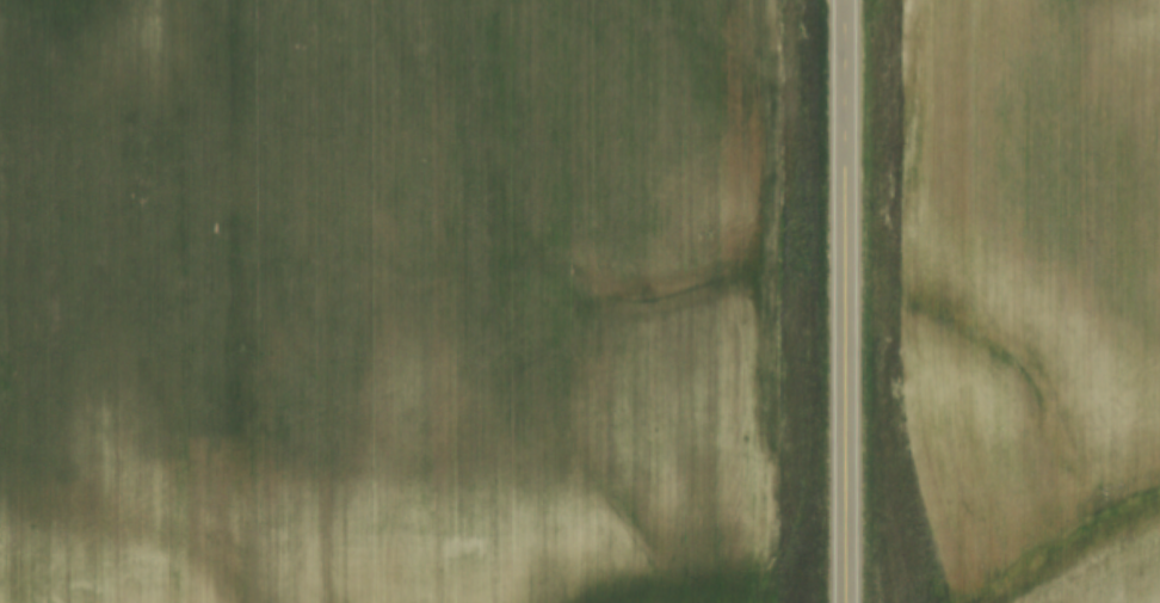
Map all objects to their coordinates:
road: (844, 301)

